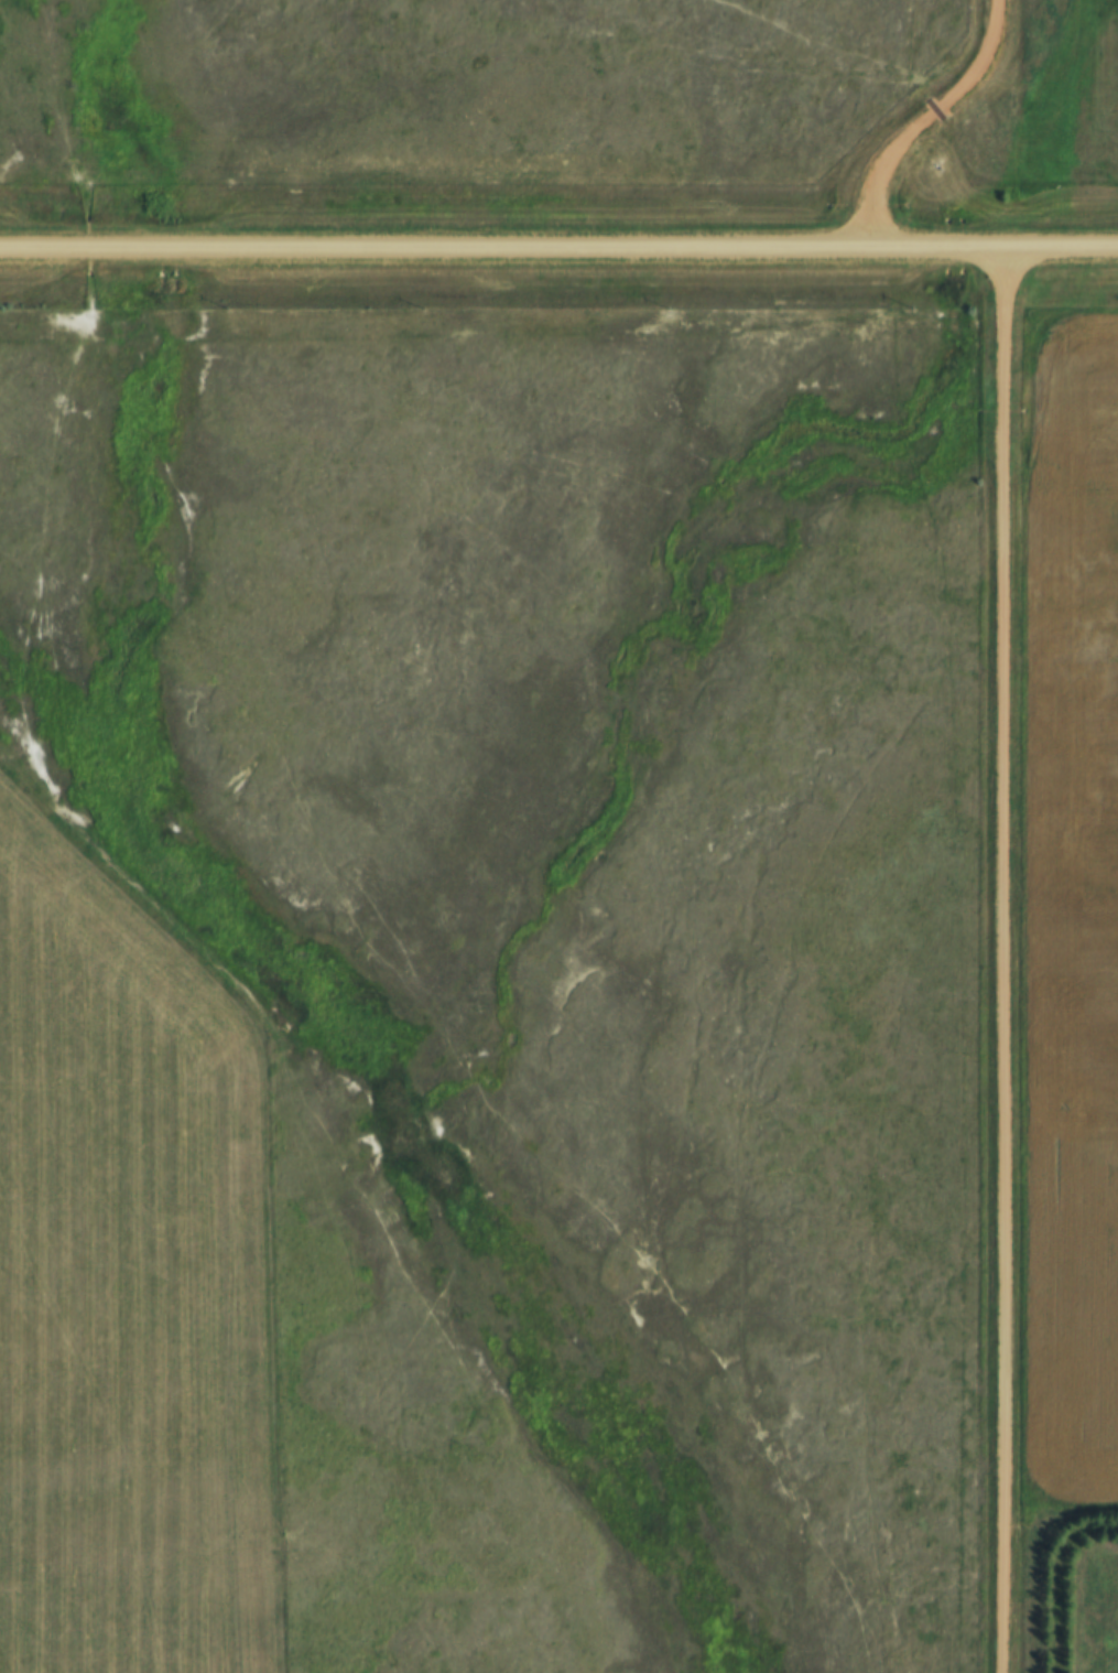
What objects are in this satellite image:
road: (927, 121)
road: (558, 250)
road: (1002, 961)

